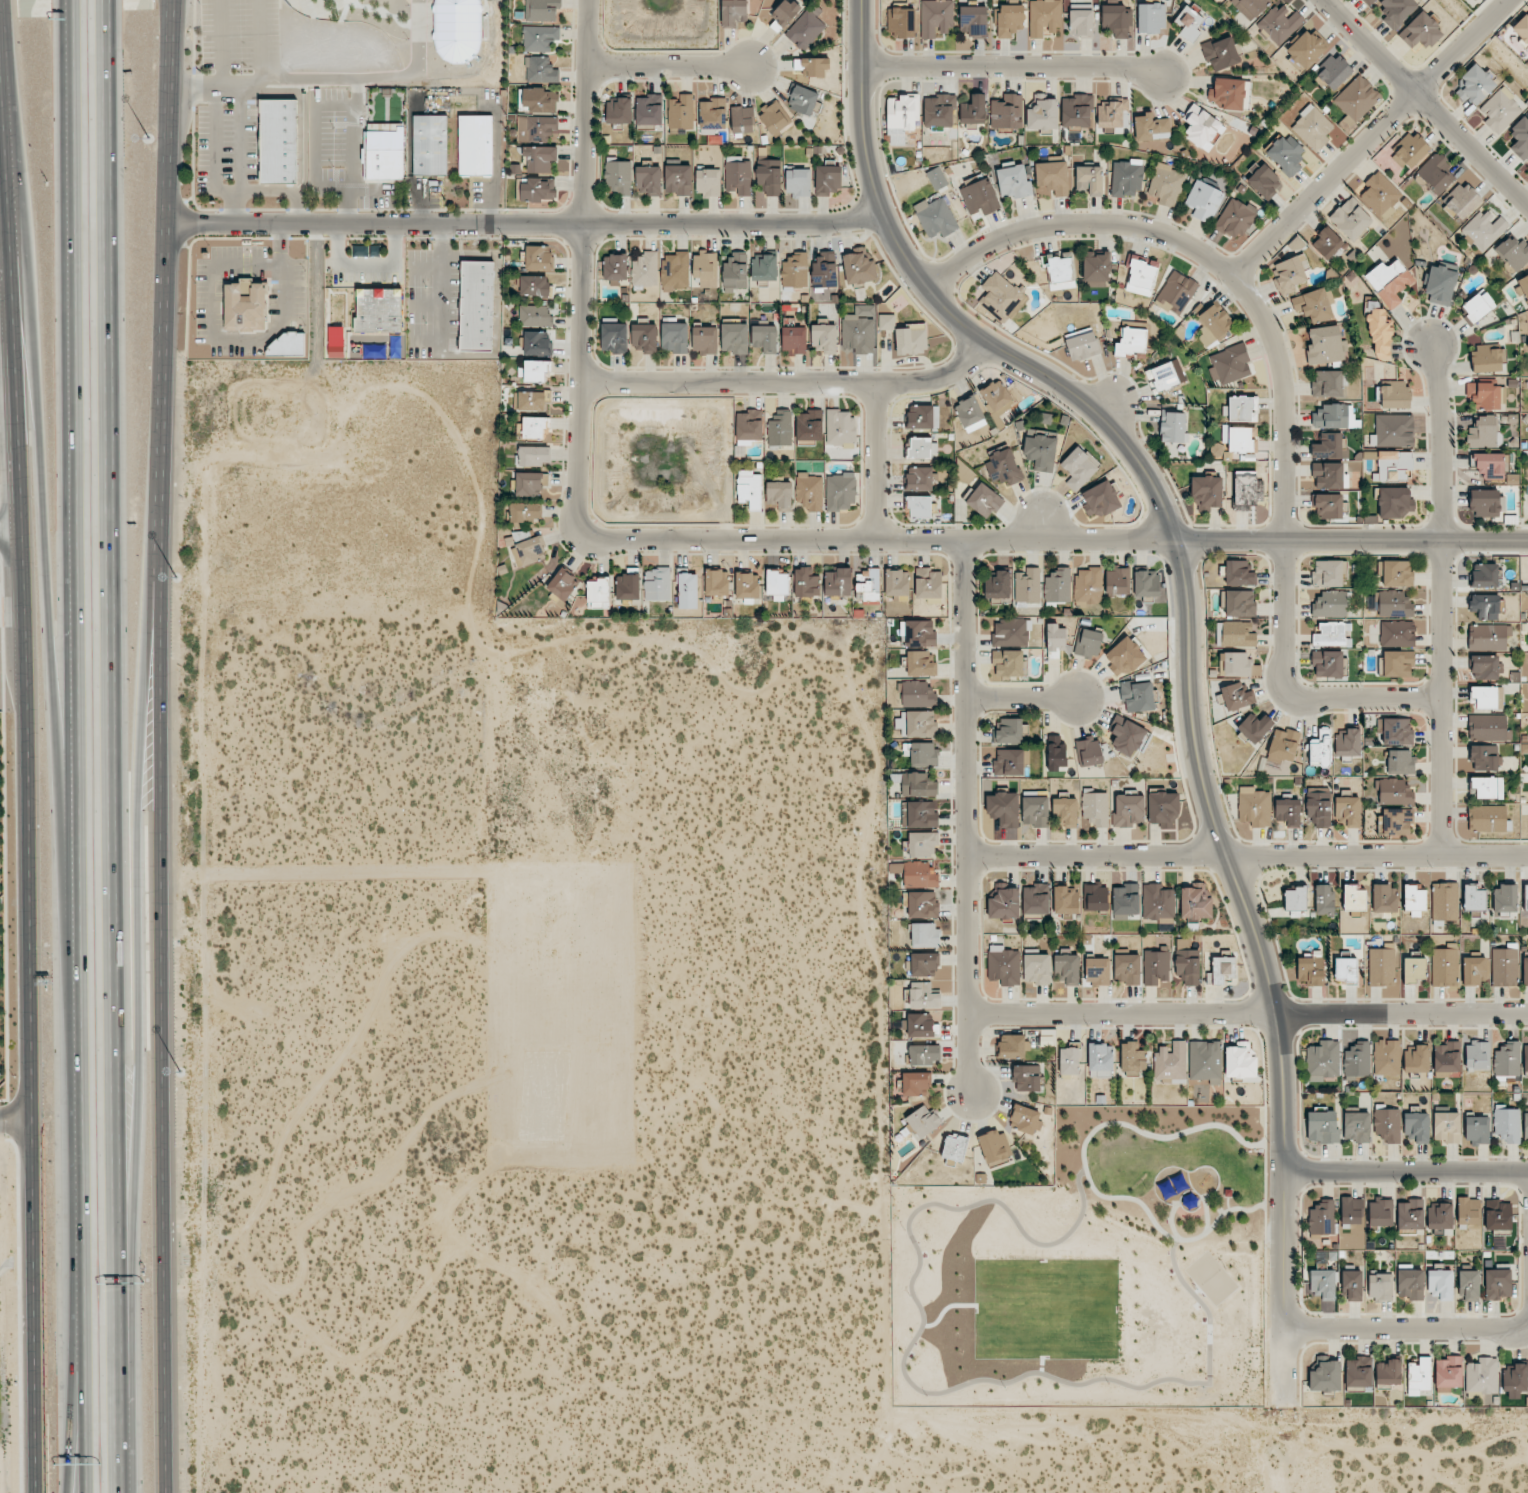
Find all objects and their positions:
building: (1366, 1)
building: (1250, 7)
building: (541, 10)
building: (1397, 10)
building: (733, 12)
building: (784, 14)
building: (935, 17)
building: (1044, 17)
building: (1151, 17)
building: (1010, 20)
building: (1117, 20)
building: (1081, 21)
building: (900, 22)
building: (1189, 23)
building: (1280, 23)
building: (805, 29)
building: (1522, 29)
building: (1421, 30)
building: (457, 31)
building: (539, 38)
road: (258, 41)
building: (1306, 48)
building: (1220, 53)
road: (1012, 65)
building: (812, 66)
building: (540, 70)
road: (671, 70)
building: (1334, 71)
road: (377, 77)
road: (215, 84)
building: (1474, 86)
building: (1227, 93)
building: (1356, 99)
building: (539, 100)
building: (802, 100)
road: (1420, 104)
building: (649, 109)
building: (973, 110)
building: (1499, 110)
building: (619, 111)
building: (939, 111)
building: (1076, 111)
building: (681, 112)
building: (1006, 113)
building: (712, 114)
building: (1113, 114)
building: (1042, 115)
building: (774, 117)
building: (901, 118)
building: (742, 119)
building: (536, 127)
building: (1150, 127)
building: (1201, 127)
building: (1312, 127)
road: (1366, 136)
building: (1520, 137)
building: (278, 141)
building: (430, 145)
building: (475, 145)
building: (1411, 150)
building: (384, 154)
building: (1285, 154)
building: (539, 158)
road: (214, 159)
building: (1435, 173)
building: (769, 176)
building: (618, 177)
building: (738, 177)
building: (1052, 177)
building: (937, 178)
building: (1126, 178)
building: (678, 179)
building: (1089, 179)
building: (648, 180)
building: (828, 180)
building: (707, 181)
building: (798, 182)
building: (1013, 182)
building: (1264, 182)
building: (1166, 184)
building: (538, 189)
building: (1380, 194)
building: (979, 197)
building: (1203, 201)
building: (1460, 201)
building: (935, 217)
building: (1235, 218)
building: (1350, 219)
road: (522, 227)
building: (1483, 229)
building: (1328, 245)
building: (366, 250)
building: (1513, 253)
road: (7, 255)
building: (539, 257)
road: (583, 262)
building: (1290, 266)
building: (615, 267)
building: (763, 267)
building: (858, 267)
building: (1060, 268)
building: (1096, 268)
building: (645, 269)
building: (705, 269)
building: (675, 270)
building: (824, 270)
building: (735, 272)
building: (1141, 276)
building: (1389, 282)
building: (1440, 283)
building: (535, 286)
building: (1522, 287)
building: (1176, 292)
building: (1001, 297)
building: (1314, 304)
building: (477, 306)
building: (1477, 306)
building: (245, 307)
building: (378, 310)
building: (535, 315)
road: (1261, 316)
building: (886, 322)
building: (1214, 325)
building: (858, 330)
building: (1379, 333)
building: (643, 336)
building: (734, 336)
building: (614, 337)
building: (674, 337)
building: (823, 337)
building: (765, 338)
building: (704, 339)
building: (911, 339)
building: (793, 340)
building: (336, 341)
building: (1132, 342)
building: (537, 343)
building: (1081, 344)
building: (285, 345)
building: (1325, 345)
building: (1486, 358)
building: (1230, 364)
building: (535, 370)
building: (1165, 375)
building: (1327, 383)
road: (792, 384)
building: (1393, 395)
building: (1484, 395)
building: (996, 399)
building: (530, 400)
building: (1242, 408)
building: (970, 414)
building: (1334, 416)
building: (922, 417)
building: (809, 425)
building: (534, 427)
building: (749, 427)
building: (780, 427)
building: (840, 427)
building: (1173, 427)
building: (1394, 430)
building: (1482, 432)
building: (1242, 439)
building: (1329, 446)
building: (921, 448)
building: (1040, 452)
building: (532, 455)
road: (870, 460)
building: (1490, 465)
building: (1393, 466)
building: (1003, 467)
building: (1079, 467)
building: (1327, 475)
building: (919, 478)
building: (530, 482)
building: (749, 488)
building: (809, 491)
building: (840, 492)
building: (1247, 492)
building: (1206, 493)
building: (779, 494)
building: (1100, 499)
building: (984, 501)
road: (45, 503)
building: (1485, 503)
building: (919, 506)
building: (1327, 506)
building: (524, 512)
road: (12, 513)
road: (12, 537)
road: (1057, 539)
building: (529, 551)
road: (25, 559)
building: (1238, 573)
building: (1328, 573)
building: (1397, 574)
building: (1484, 575)
building: (837, 582)
building: (1117, 582)
building: (716, 583)
building: (806, 583)
building: (897, 583)
building: (927, 583)
building: (1146, 583)
building: (562, 584)
building: (657, 584)
building: (777, 585)
building: (867, 585)
building: (998, 585)
building: (1027, 585)
building: (1057, 585)
building: (746, 586)
building: (1088, 586)
building: (627, 587)
building: (687, 589)
road: (1440, 600)
building: (1239, 603)
building: (1330, 604)
building: (1394, 604)
building: (1484, 606)
building: (918, 632)
building: (1010, 632)
building: (1235, 633)
building: (1397, 633)
building: (1331, 634)
building: (1486, 637)
building: (1055, 639)
building: (1088, 643)
road: (1180, 647)
building: (1124, 656)
building: (920, 663)
building: (1007, 663)
building: (1327, 663)
building: (1396, 663)
building: (1234, 664)
building: (1485, 667)
building: (916, 693)
building: (1137, 695)
building: (1236, 696)
building: (1486, 697)
road: (1021, 699)
road: (1366, 699)
building: (916, 723)
building: (1254, 727)
building: (1486, 727)
building: (1009, 731)
building: (1397, 731)
building: (1126, 735)
building: (1347, 742)
building: (1283, 745)
road: (71, 746)
road: (113, 746)
road: (160, 746)
building: (1320, 748)
building: (1088, 752)
building: (1056, 753)
building: (922, 754)
building: (1484, 757)
building: (1008, 762)
building: (1400, 762)
building: (918, 785)
building: (1487, 787)
building: (1395, 792)
building: (1318, 806)
building: (1254, 807)
building: (1095, 808)
building: (1003, 809)
building: (1128, 809)
building: (1163, 809)
building: (1035, 811)
building: (1288, 811)
building: (1066, 813)
building: (919, 814)
road: (966, 816)
building: (1487, 818)
building: (1397, 821)
building: (922, 844)
road: (1247, 854)
building: (919, 874)
building: (1095, 896)
building: (1474, 896)
building: (1353, 898)
building: (1383, 898)
building: (1504, 898)
building: (1036, 899)
building: (1324, 899)
building: (1065, 900)
building: (1295, 900)
building: (1125, 901)
building: (1414, 901)
building: (1444, 901)
building: (1158, 902)
building: (1195, 902)
building: (1003, 903)
building: (922, 904)
building: (924, 935)
building: (1222, 954)
building: (924, 964)
building: (1003, 965)
building: (1155, 966)
building: (1187, 966)
building: (1444, 966)
building: (1381, 967)
building: (1504, 967)
building: (1036, 968)
building: (1066, 968)
building: (1126, 968)
building: (1413, 969)
building: (1221, 970)
building: (1345, 970)
building: (1525, 970)
road: (136, 971)
building: (1097, 971)
building: (1309, 971)
building: (1474, 971)
building: (923, 995)
road: (1247, 1011)
building: (921, 1026)
building: (922, 1054)
building: (1477, 1056)
building: (1132, 1057)
building: (1386, 1057)
building: (1416, 1058)
building: (1446, 1058)
building: (1506, 1058)
building: (1525, 1058)
building: (1069, 1059)
building: (1100, 1060)
building: (1240, 1060)
building: (1323, 1060)
building: (1357, 1060)
building: (1205, 1061)
building: (1171, 1062)
building: (1026, 1077)
building: (916, 1084)
road: (14, 1119)
building: (1025, 1119)
building: (922, 1121)
building: (1387, 1124)
building: (1507, 1124)
building: (1525, 1126)
building: (1322, 1127)
building: (1356, 1127)
building: (1416, 1127)
building: (1446, 1127)
building: (1477, 1128)
building: (994, 1146)
building: (954, 1147)
road: (1087, 1171)
road: (1406, 1171)
building: (1351, 1210)
building: (1468, 1210)
building: (1380, 1213)
road: (1207, 1214)
building: (1410, 1214)
building: (1497, 1215)
building: (1439, 1216)
building: (1322, 1217)
road: (1173, 1221)
park: (1098, 1273)
building: (1497, 1283)
building: (1322, 1284)
building: (1410, 1284)
building: (1352, 1285)
building: (1440, 1285)
building: (1468, 1285)
building: (1380, 1286)
road: (31, 1305)
road: (1406, 1327)
building: (1358, 1372)
building: (1388, 1372)
building: (1448, 1373)
building: (1324, 1375)
building: (1418, 1376)
building: (1482, 1376)
road: (67, 1377)
building: (1515, 1380)
road: (921, 1391)

